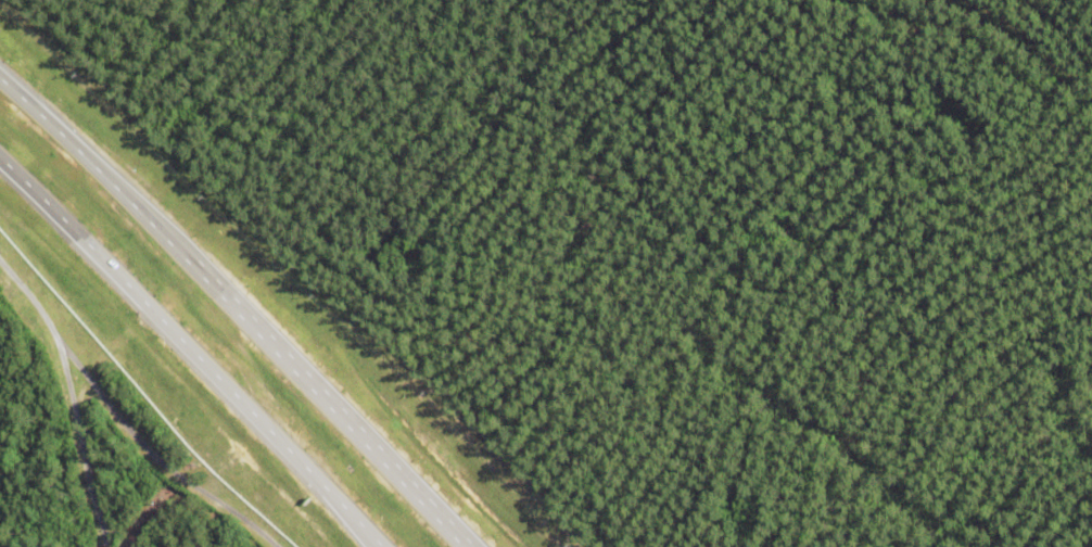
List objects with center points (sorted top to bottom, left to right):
road: (243, 304)
road: (191, 346)
road: (65, 396)
road: (150, 457)

